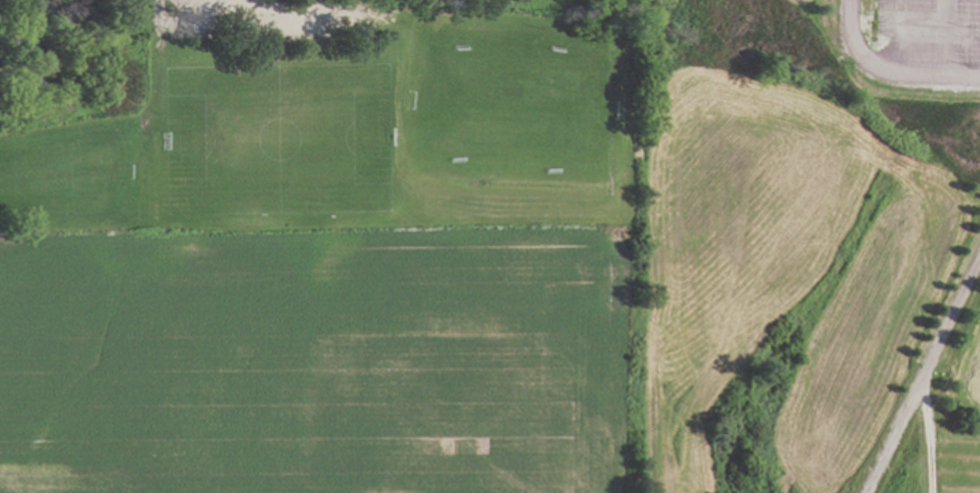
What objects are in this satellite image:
road: (899, 38)
road: (941, 38)
road: (887, 72)
park: (319, 114)
crop: (320, 360)

